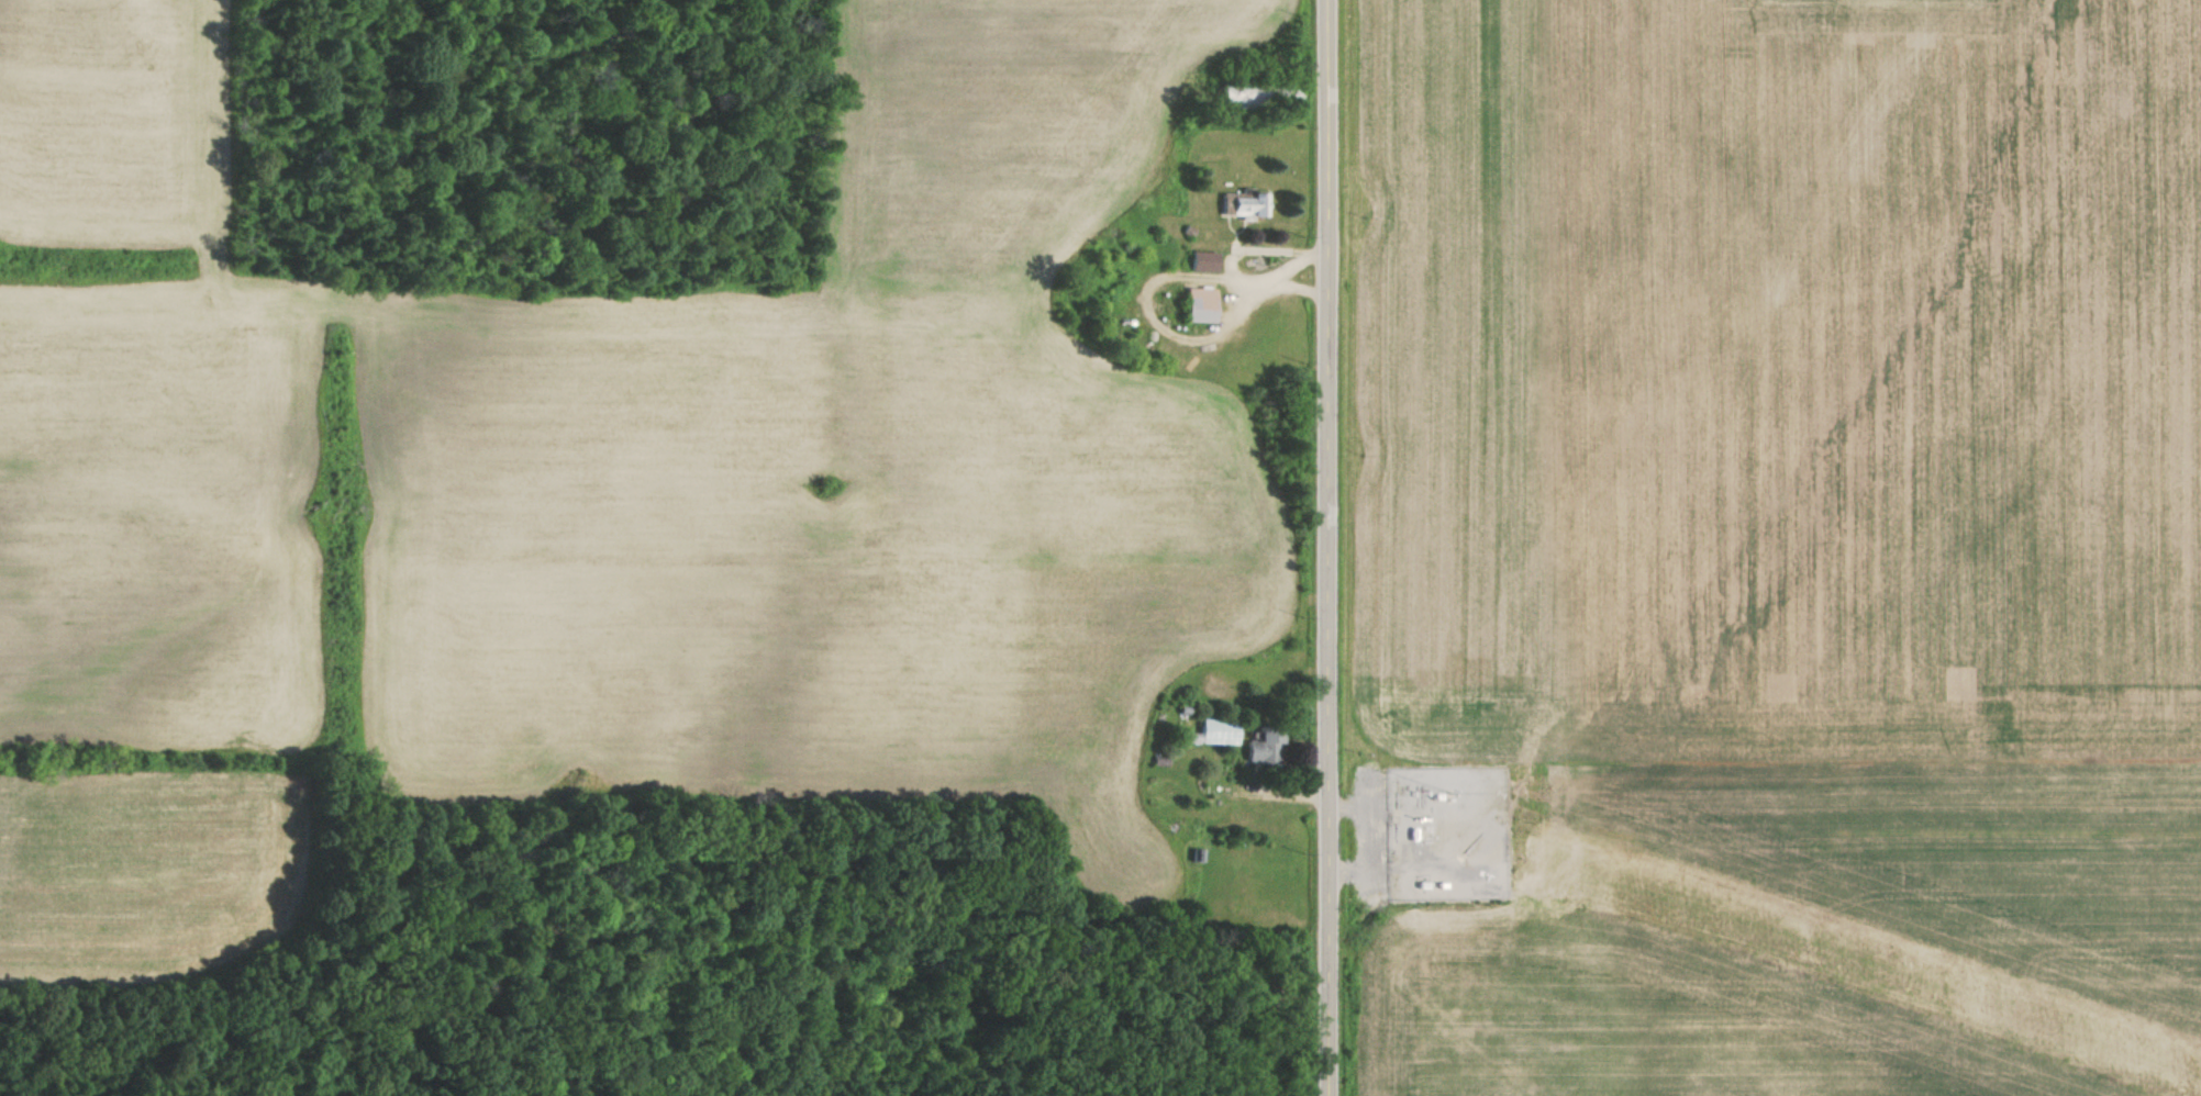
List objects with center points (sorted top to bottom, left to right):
building: (1237, 204)
building: (1200, 261)
building: (1196, 304)
road: (1322, 548)
building: (1218, 731)
building: (1263, 745)

